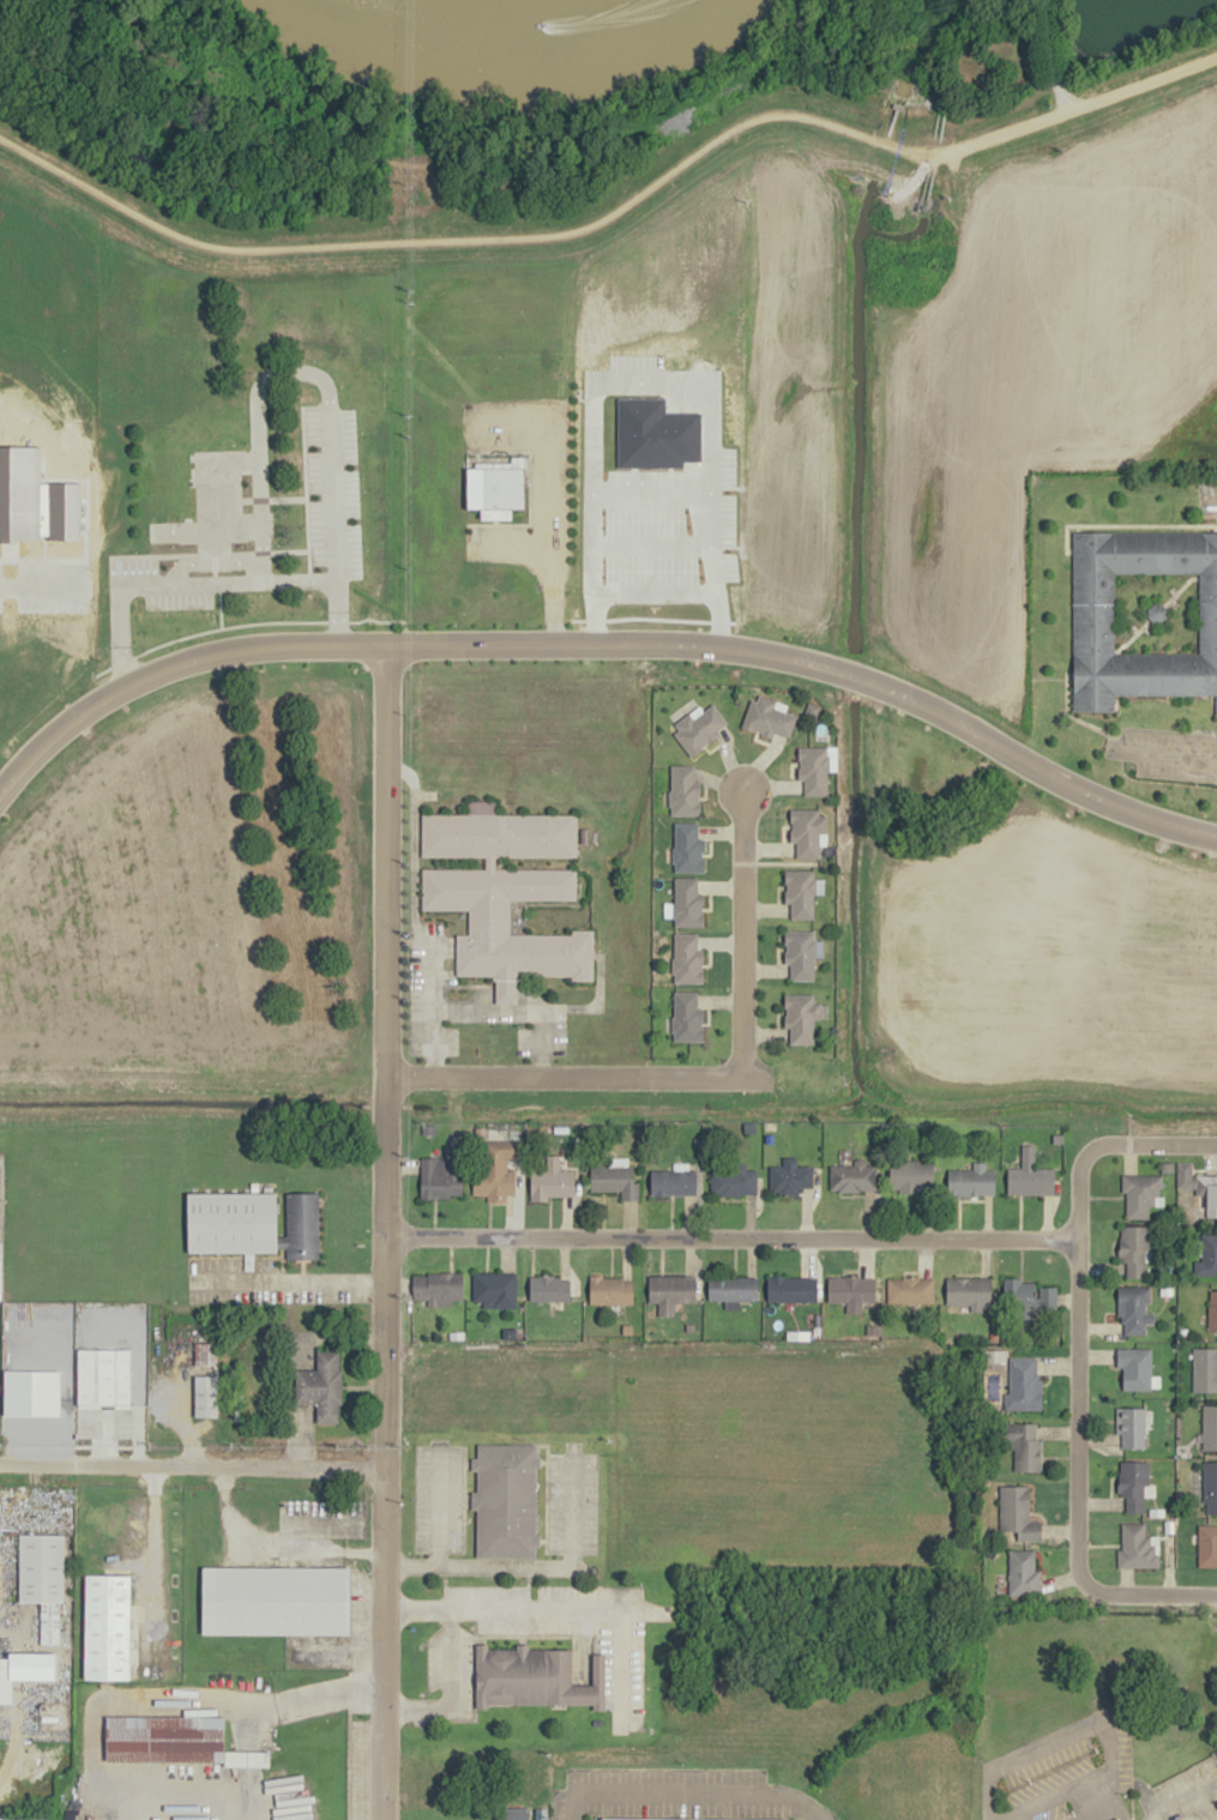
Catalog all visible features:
river: (520, 34)
road: (1052, 54)
road: (1098, 96)
road: (498, 237)
crop: (66, 302)
crop: (868, 385)
building: (495, 480)
parking lot: (529, 488)
parking lot: (1206, 498)
road: (1127, 525)
road: (1179, 589)
building: (4, 601)
building: (1094, 613)
park: (1157, 613)
building: (1158, 613)
road: (1134, 634)
road: (606, 640)
building: (811, 709)
road: (1067, 715)
building: (766, 717)
building: (698, 727)
parking lot: (1167, 754)
road: (728, 760)
road: (760, 763)
building: (812, 769)
road: (410, 779)
road: (719, 785)
road: (770, 789)
building: (685, 791)
road: (384, 831)
road: (721, 831)
building: (807, 831)
road: (766, 848)
building: (688, 849)
road: (722, 886)
road: (411, 887)
building: (504, 892)
building: (799, 892)
building: (687, 903)
road: (764, 910)
parking lot: (429, 928)
road: (721, 944)
building: (801, 953)
building: (688, 958)
road: (764, 970)
crop: (1038, 972)
road: (442, 988)
road: (504, 993)
parking lot: (412, 994)
road: (719, 1001)
road: (429, 1010)
road: (538, 1010)
building: (687, 1017)
building: (801, 1017)
parking lot: (558, 1033)
road: (763, 1033)
parking lot: (450, 1039)
parking lot: (520, 1041)
road: (537, 1042)
road: (705, 1075)
building: (1030, 1174)
building: (442, 1175)
building: (910, 1175)
building: (616, 1176)
building: (789, 1176)
building: (851, 1176)
building: (553, 1179)
building: (972, 1180)
building: (494, 1181)
building: (673, 1181)
building: (734, 1181)
building: (1198, 1187)
building: (1141, 1194)
building: (233, 1222)
building: (302, 1225)
road: (729, 1236)
building: (1134, 1248)
building: (1206, 1255)
road: (285, 1280)
building: (439, 1288)
building: (494, 1289)
building: (549, 1289)
building: (671, 1289)
building: (791, 1289)
building: (609, 1290)
building: (731, 1290)
building: (851, 1290)
building: (911, 1290)
building: (969, 1291)
building: (1028, 1297)
building: (1133, 1307)
building: (1212, 1310)
building: (204, 1352)
building: (1135, 1368)
road: (1076, 1369)
building: (1205, 1369)
building: (103, 1376)
building: (320, 1385)
building: (1023, 1386)
building: (206, 1394)
road: (380, 1418)
road: (143, 1421)
building: (1129, 1426)
building: (1210, 1428)
building: (1023, 1446)
road: (189, 1465)
building: (1132, 1484)
building: (1210, 1485)
building: (506, 1499)
building: (1018, 1513)
building: (1207, 1544)
building: (1134, 1549)
road: (144, 1568)
building: (1022, 1573)
building: (41, 1578)
building: (277, 1599)
building: (107, 1626)
building: (536, 1677)
building: (6, 1679)
road: (1064, 1734)
building: (169, 1741)
parking lot: (1047, 1770)
parking lot: (1180, 1774)
road: (687, 1788)
road: (1041, 1802)
road: (1092, 1802)
road: (1182, 1803)
parking lot: (1055, 1812)
building: (30, 1819)
building: (667, 1819)
building: (1117, 1819)
parking lot: (1138, 1819)

